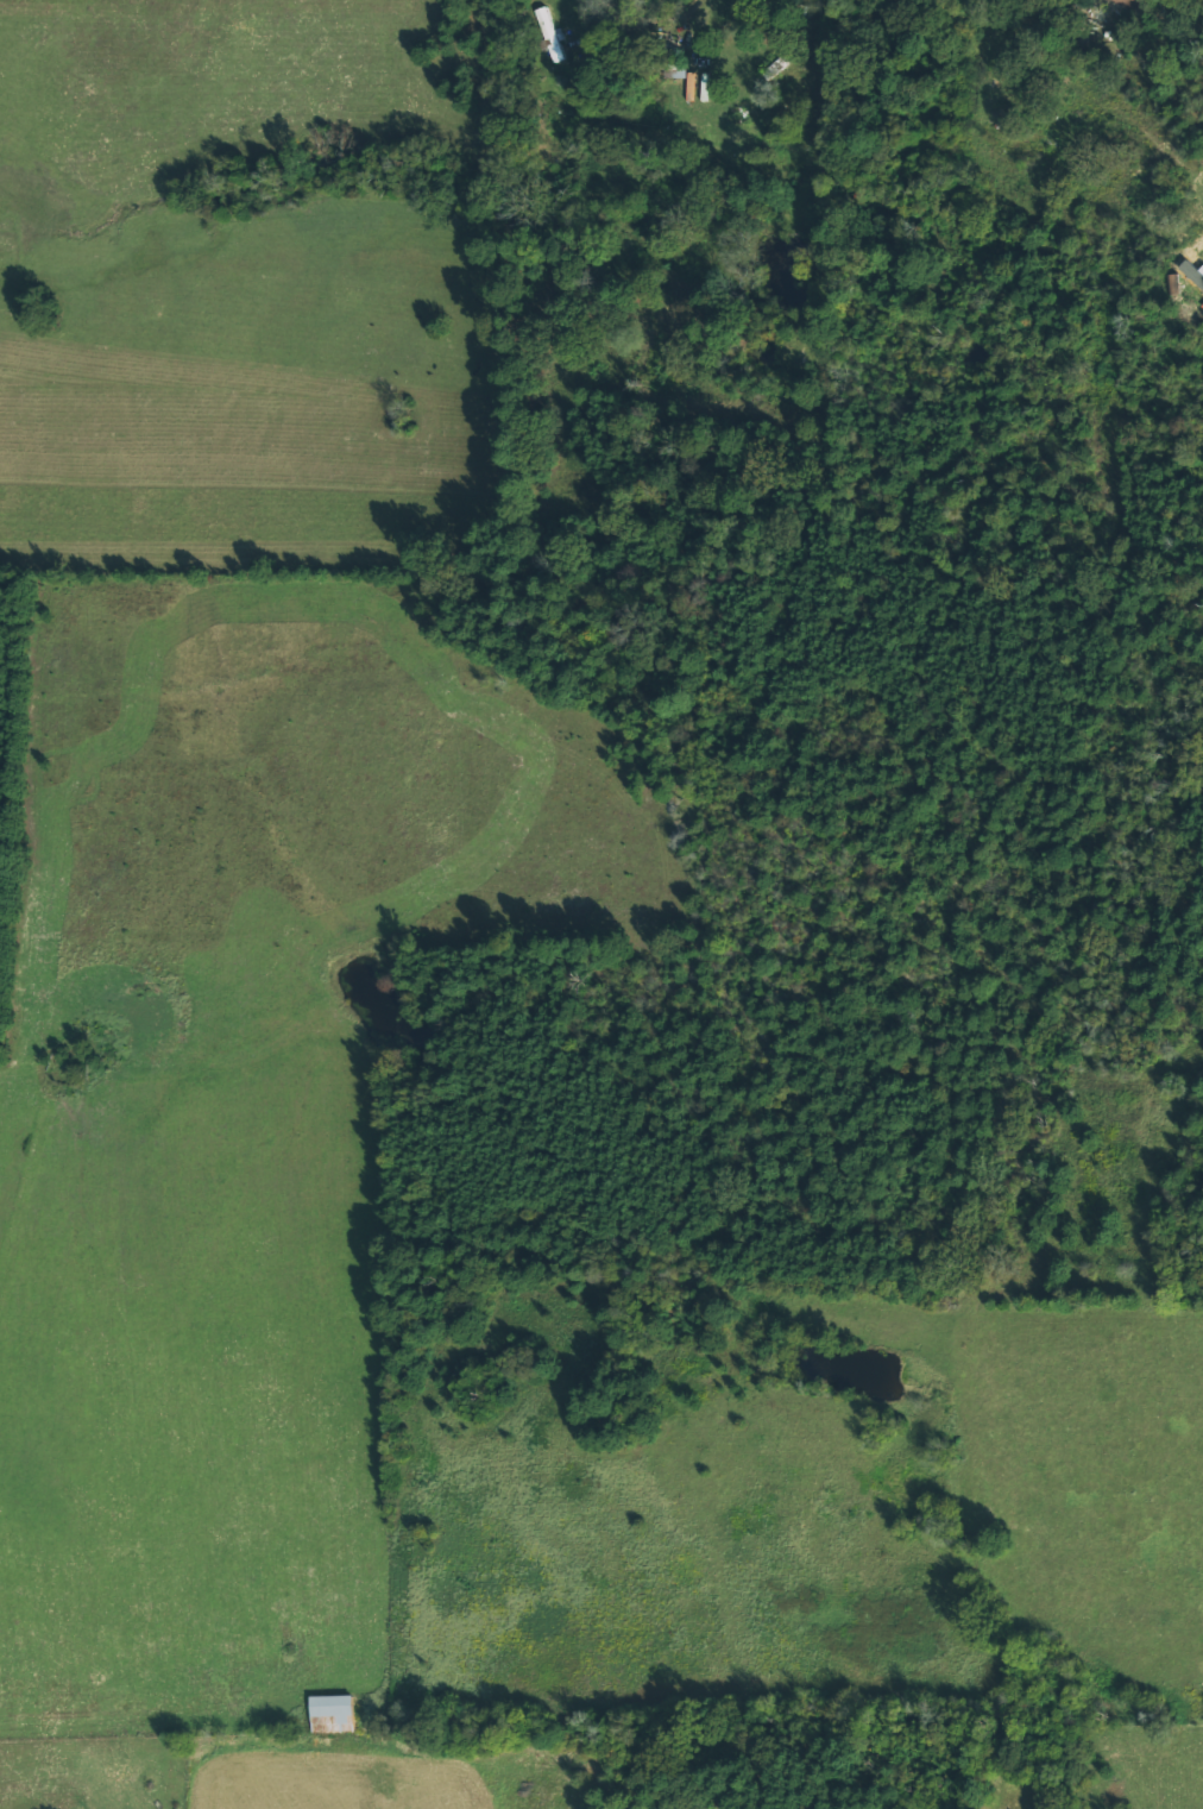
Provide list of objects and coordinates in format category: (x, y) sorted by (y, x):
building: (1116, 0)
road: (642, 14)
building: (695, 75)
building: (339, 1714)

